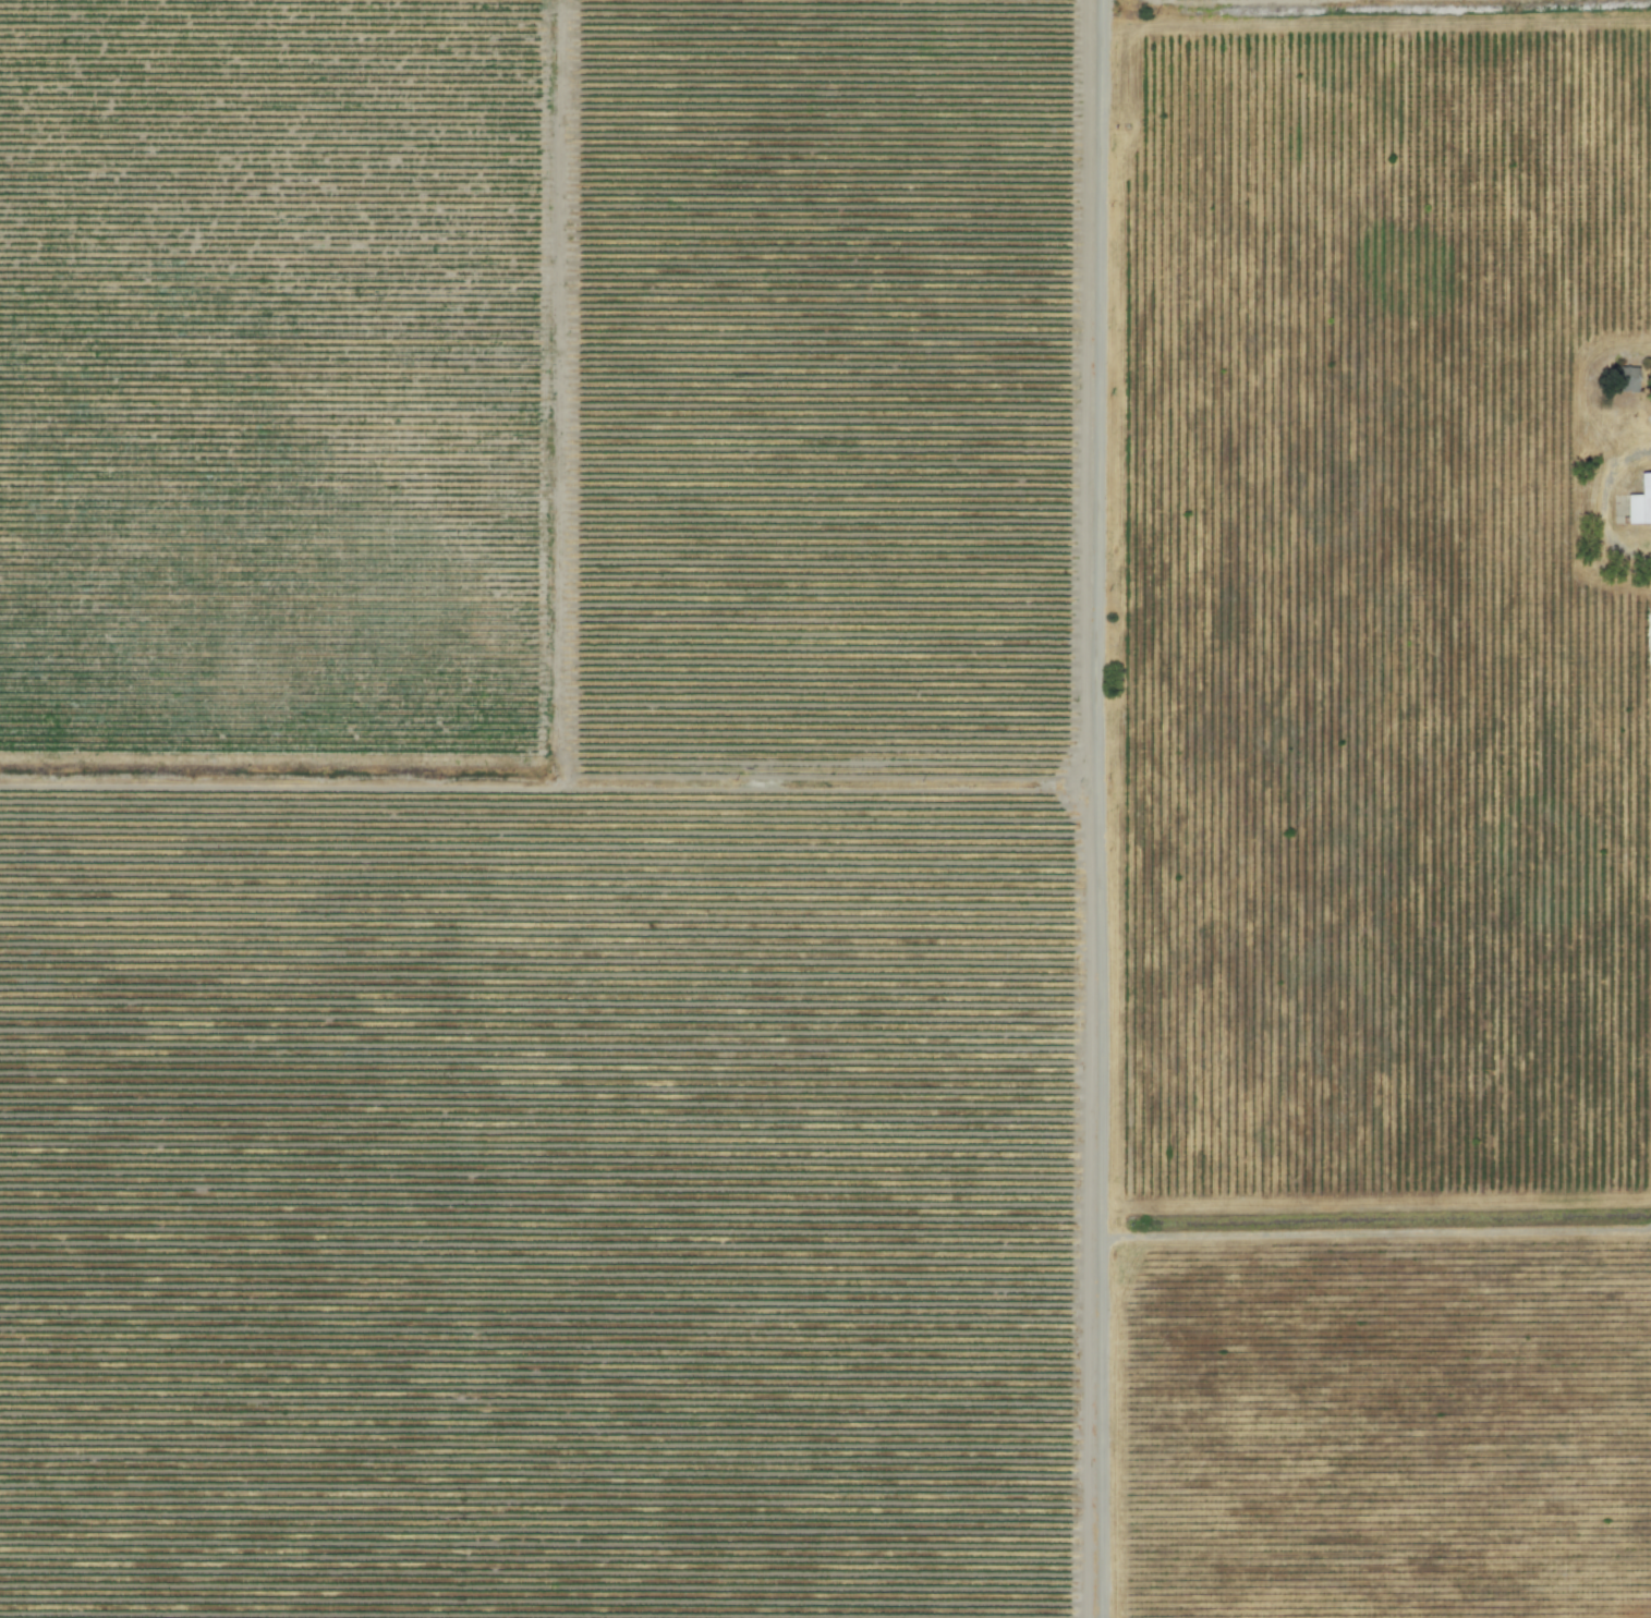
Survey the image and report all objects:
road: (1375, 32)
road: (1582, 470)
building: (1640, 504)
road: (1098, 808)
road: (1376, 1212)

